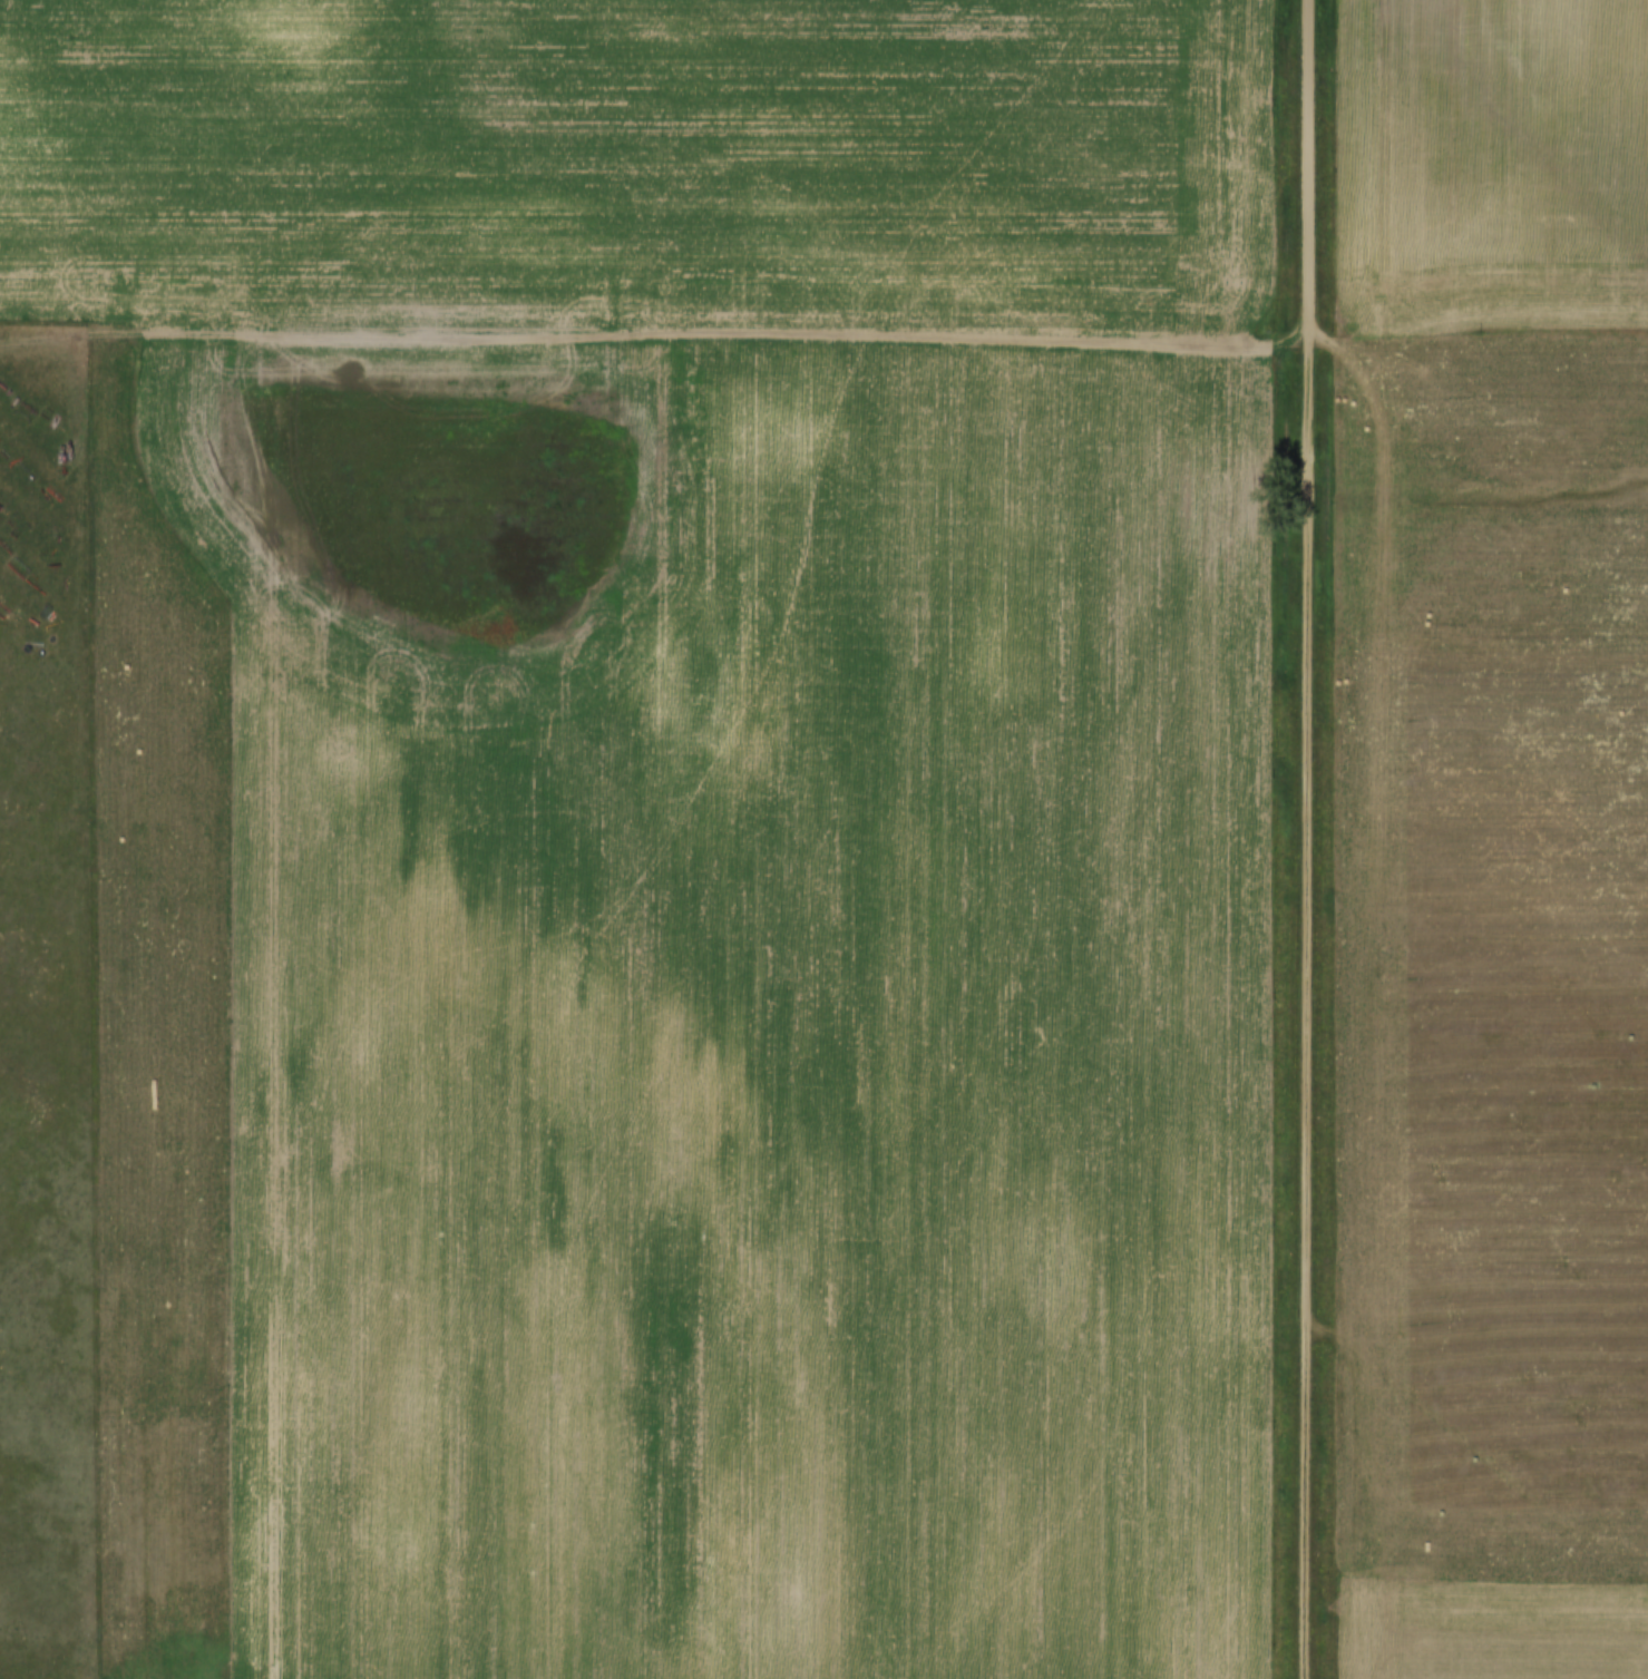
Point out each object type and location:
road: (1311, 839)

